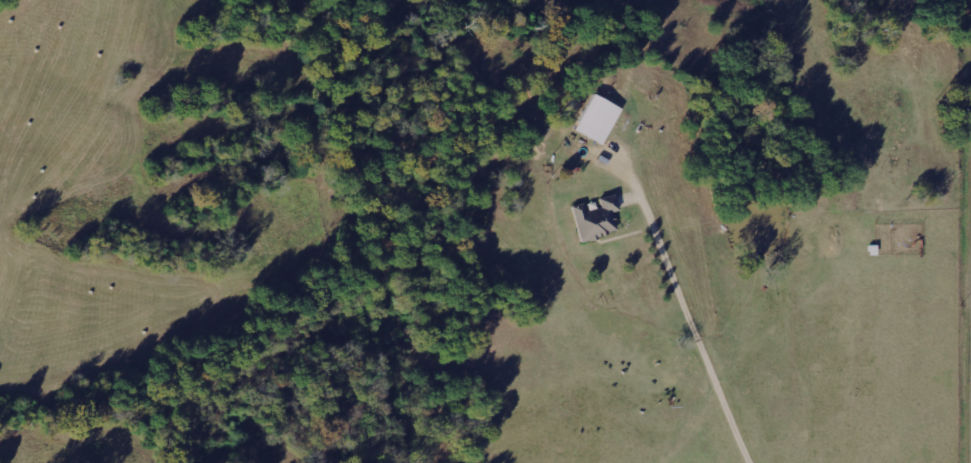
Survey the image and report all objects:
building: (599, 118)
building: (596, 218)

